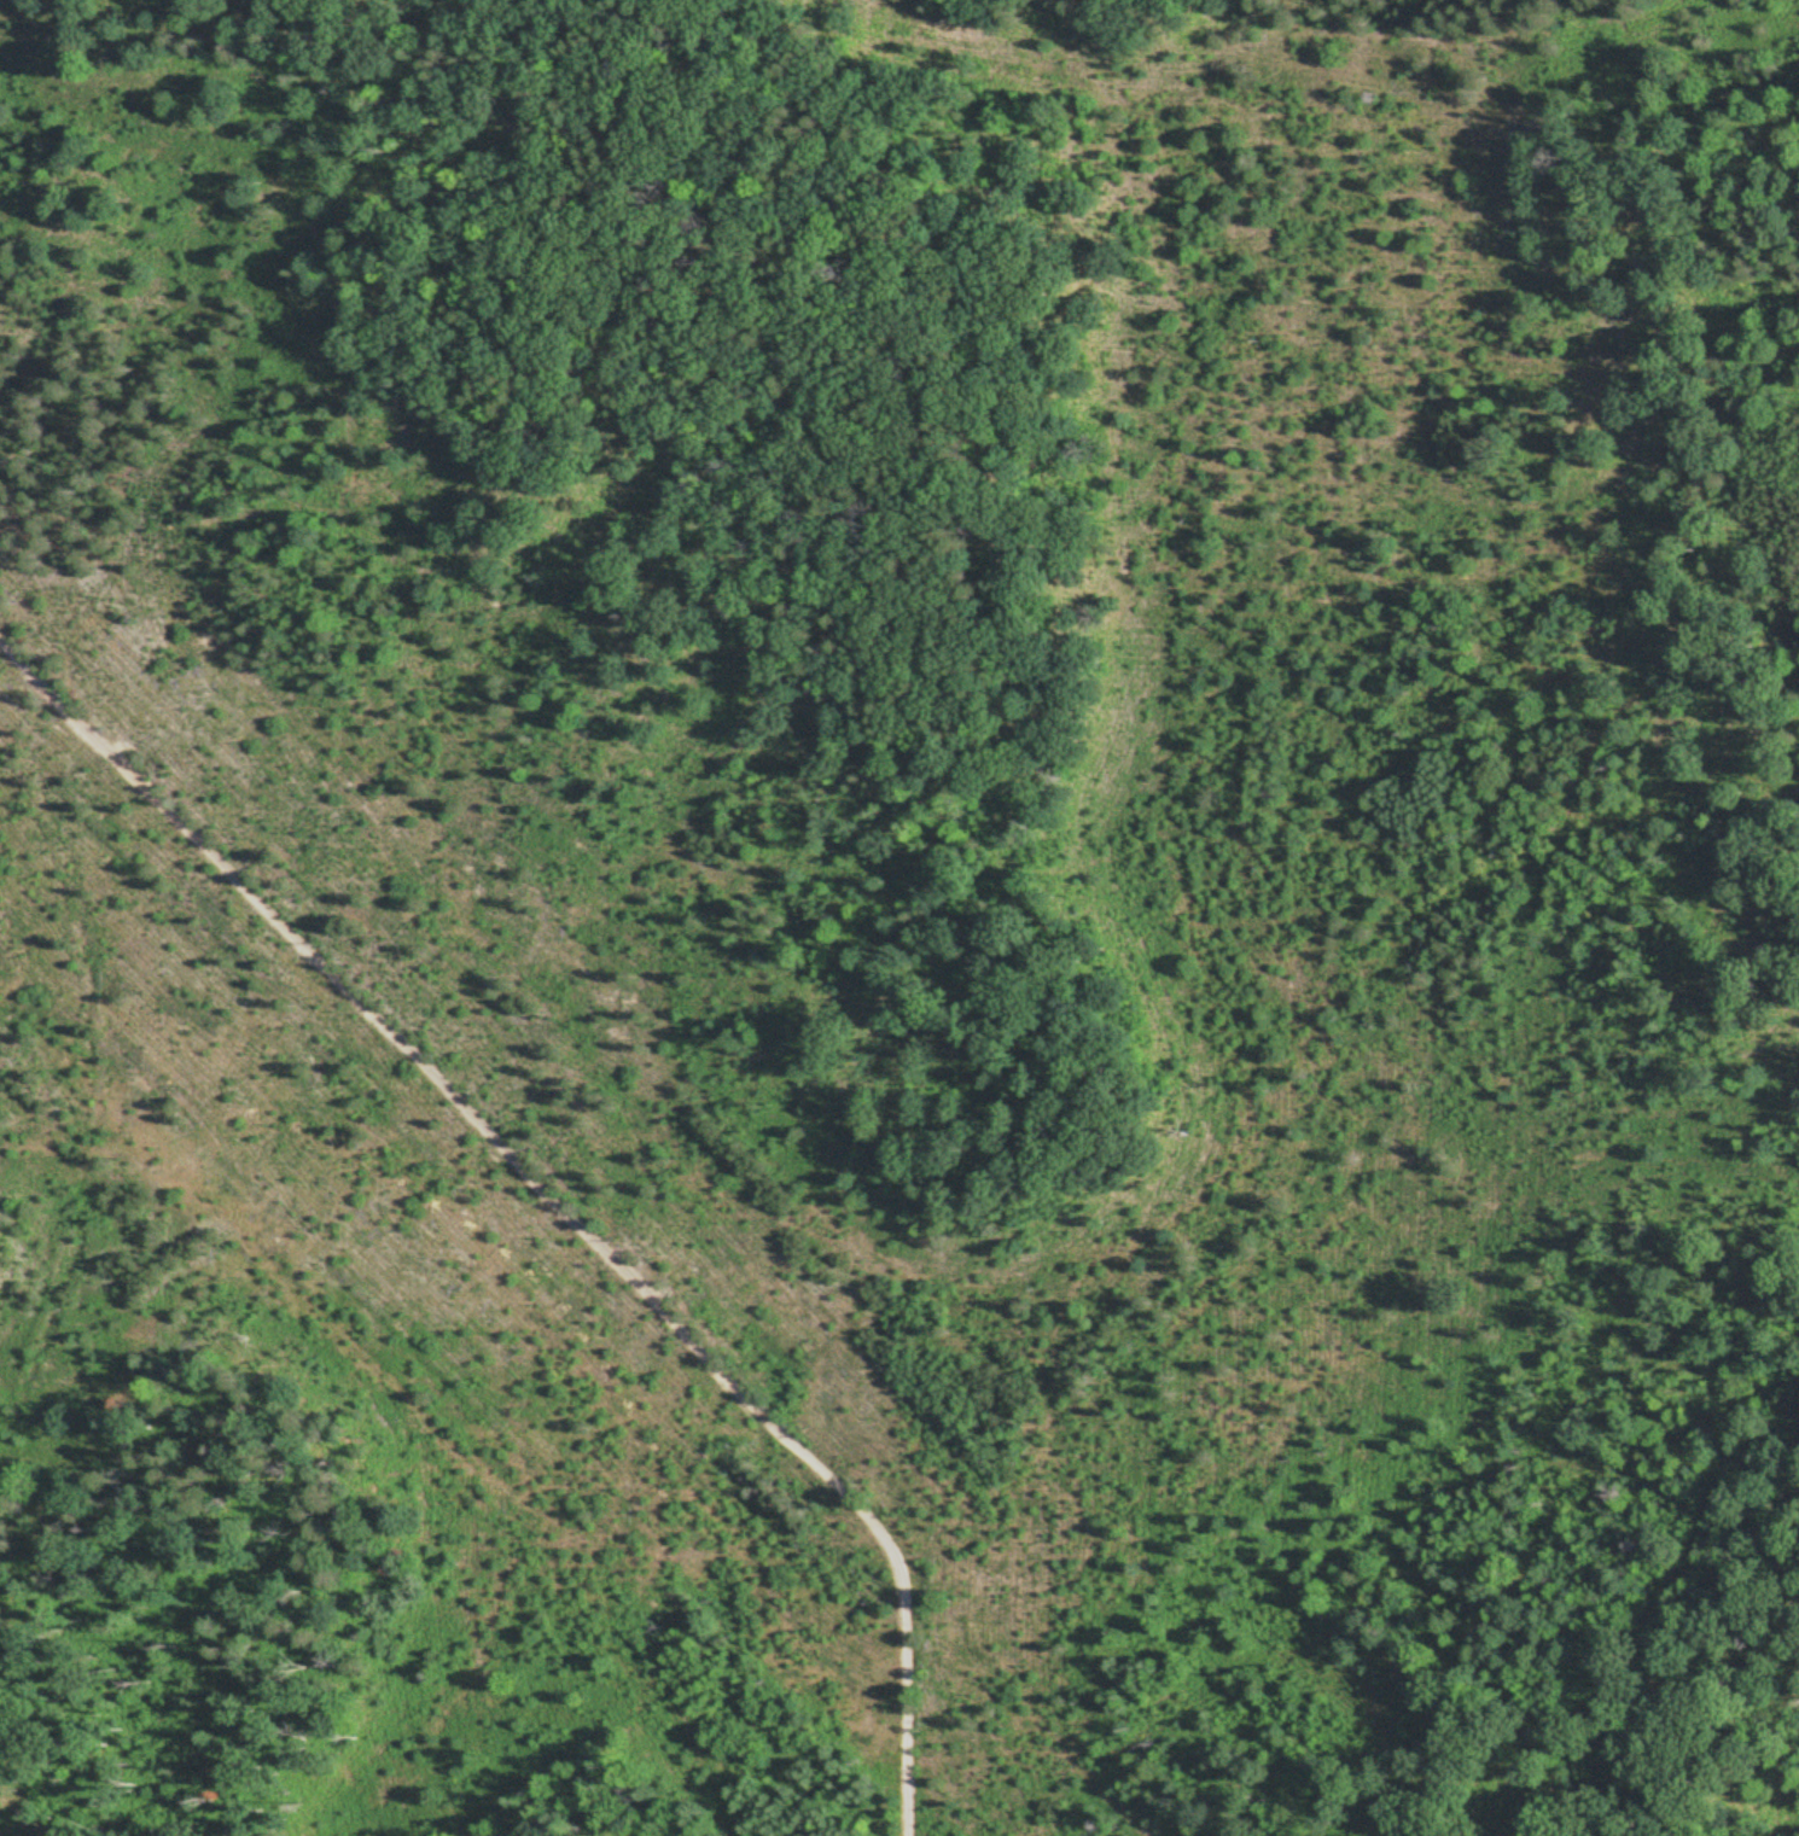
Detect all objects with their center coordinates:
road: (555, 1187)

